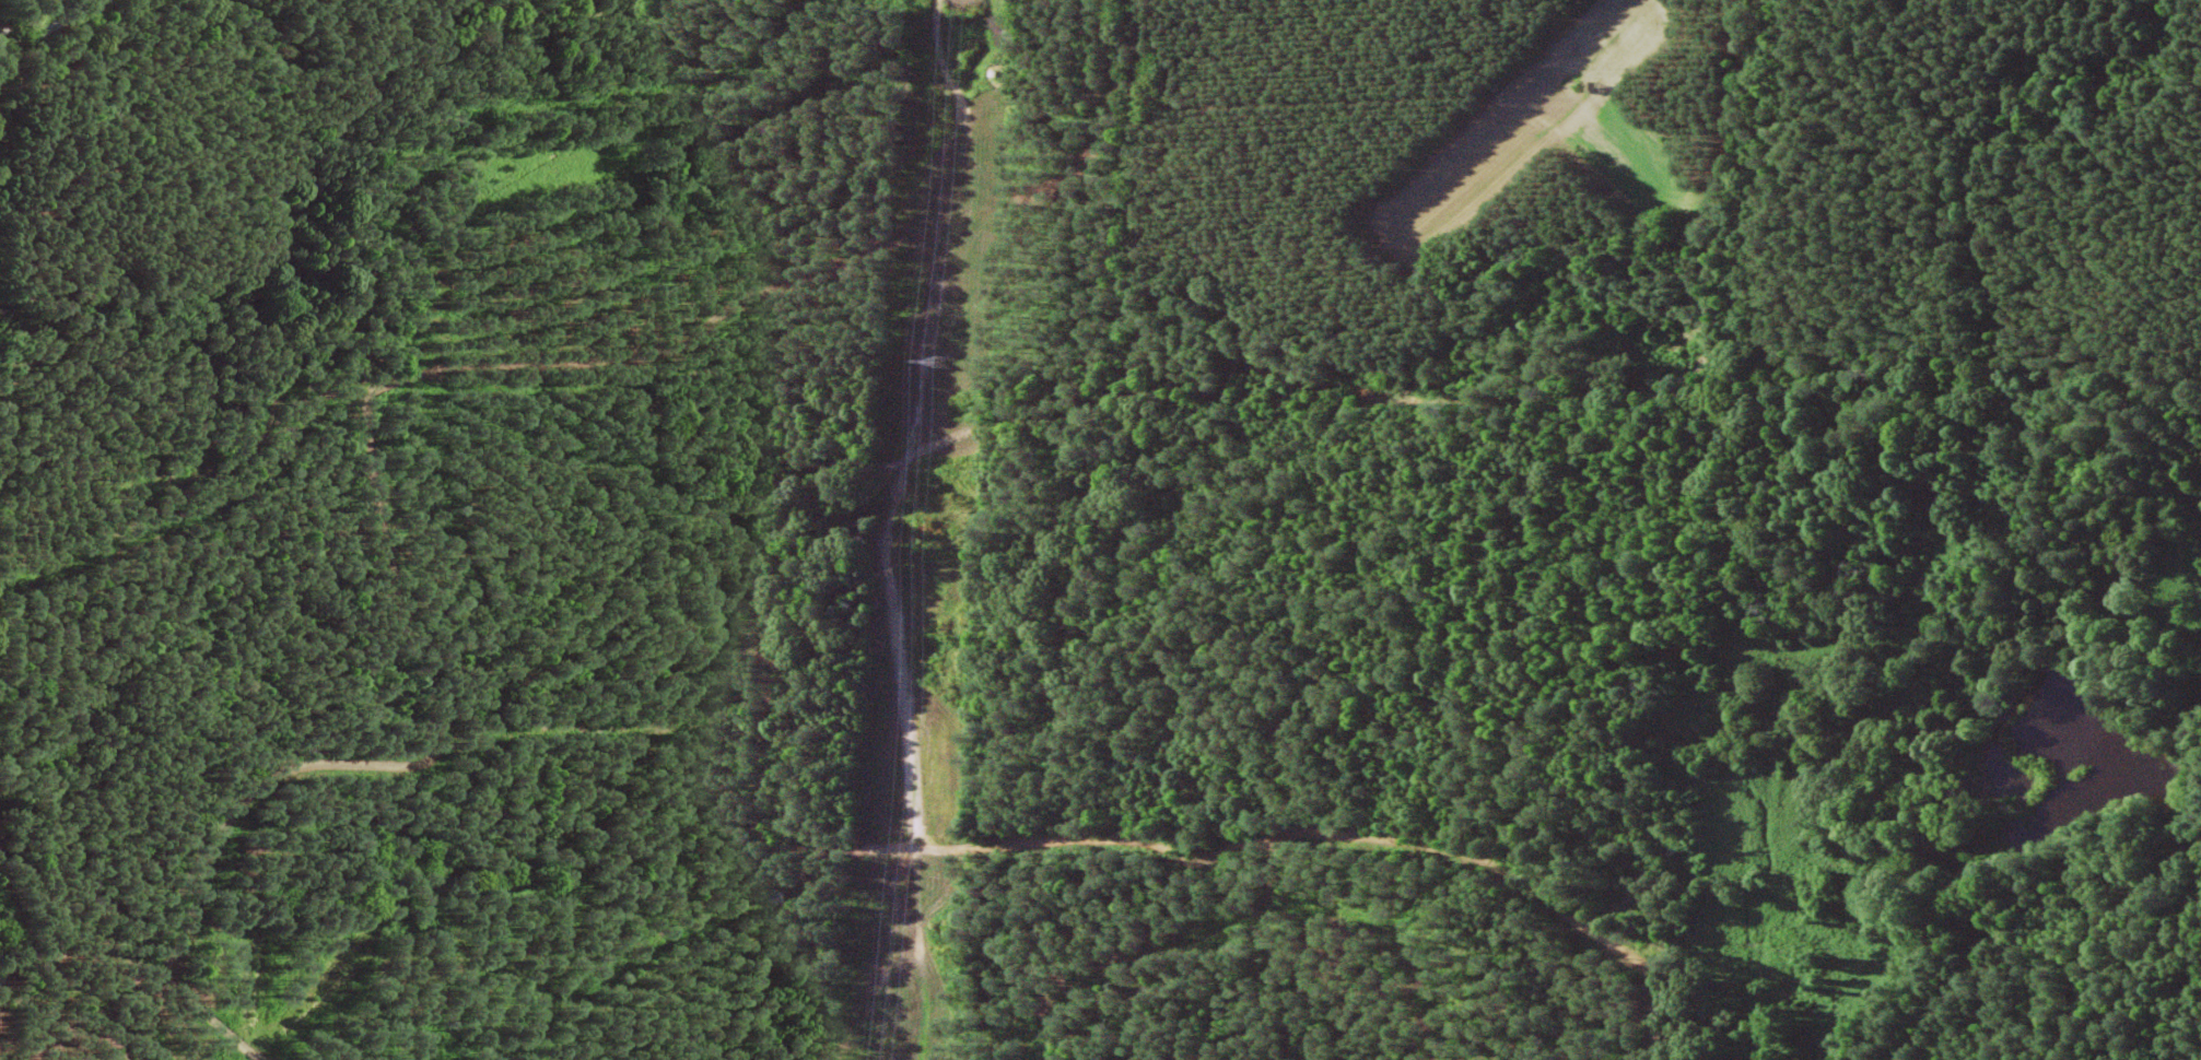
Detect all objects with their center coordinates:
power tower: (947, 361)

